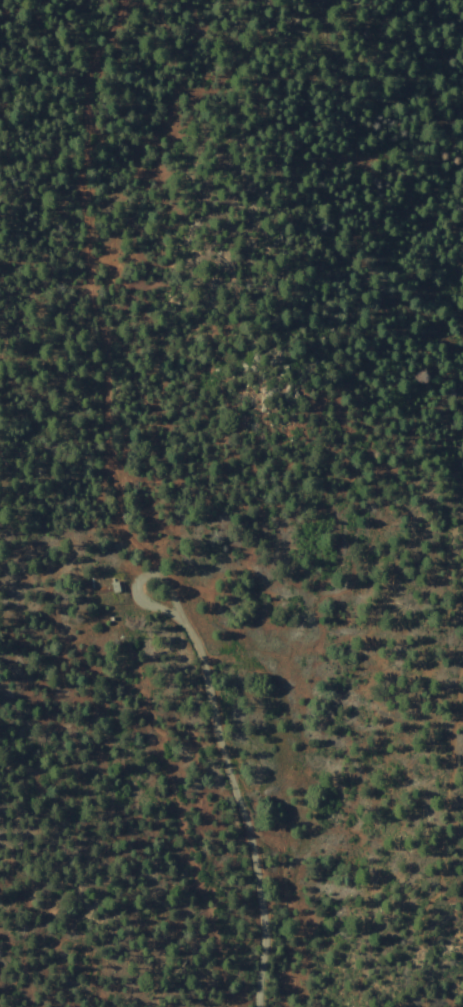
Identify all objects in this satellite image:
road: (83, 137)
road: (350, 187)
road: (90, 302)
road: (34, 352)
road: (189, 660)

